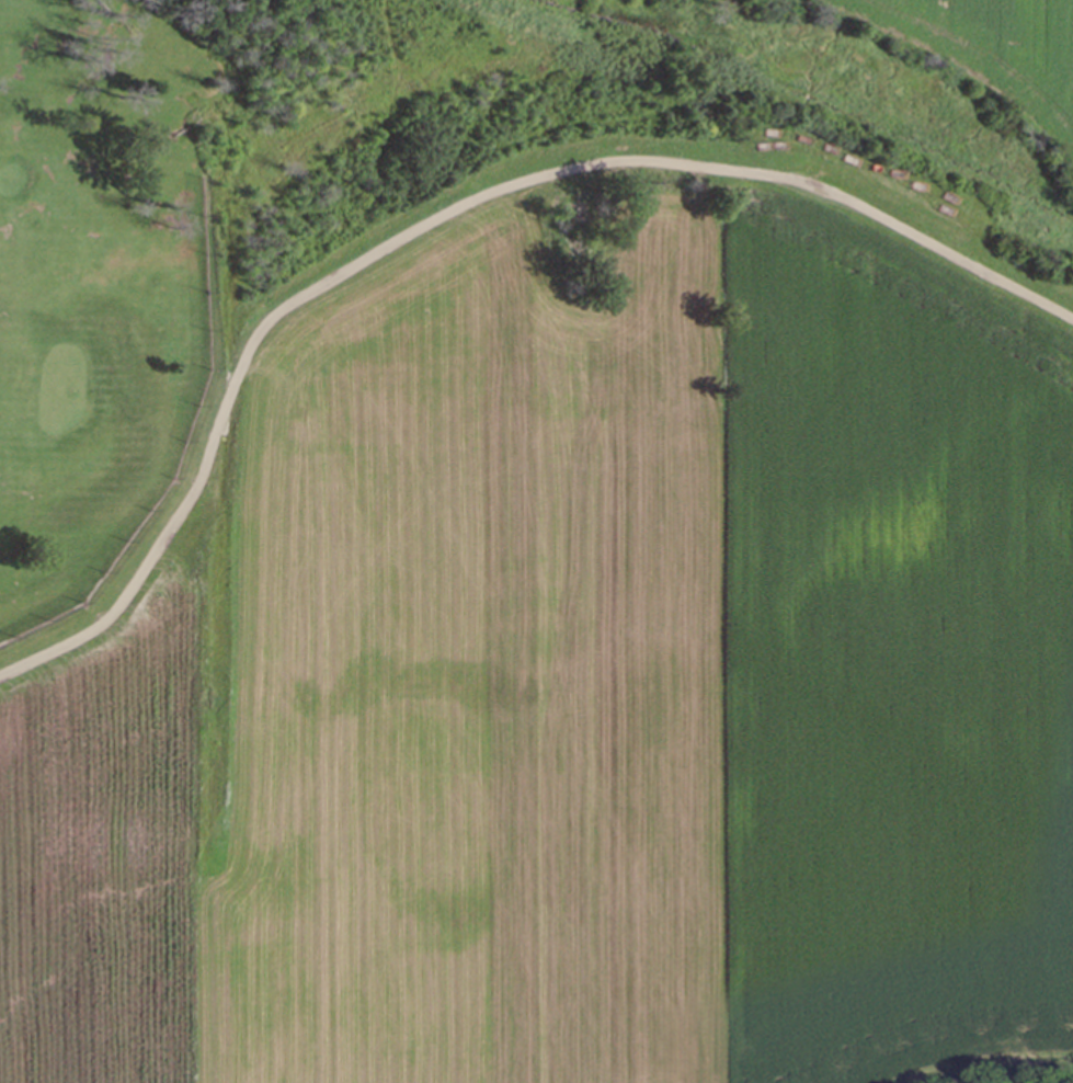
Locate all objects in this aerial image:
road: (445, 215)
park: (136, 249)
crop: (593, 582)

